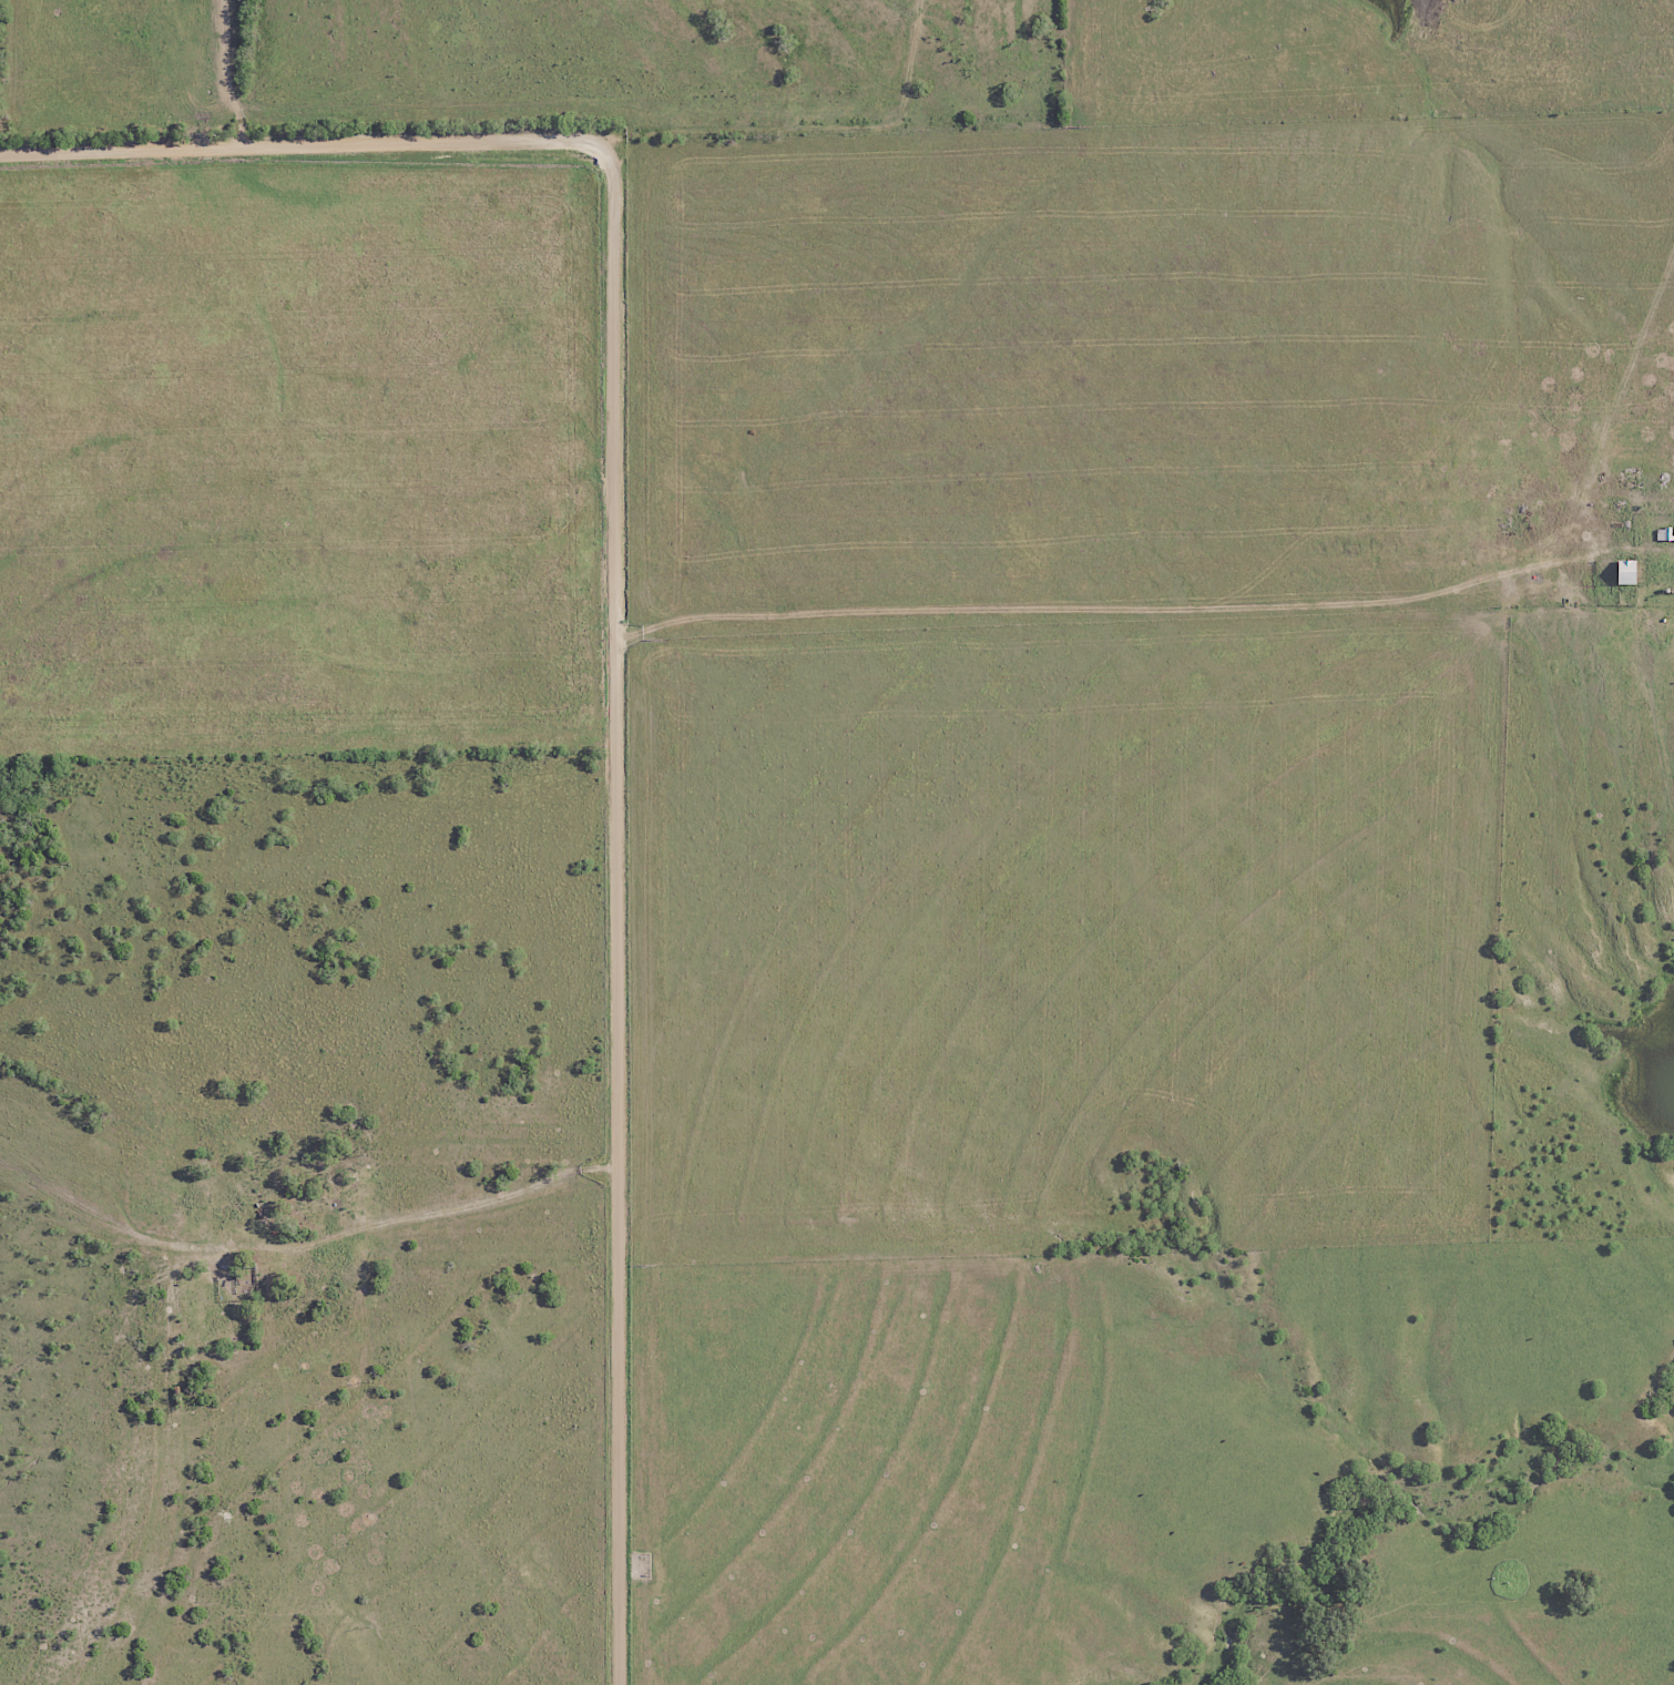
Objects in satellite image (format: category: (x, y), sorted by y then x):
road: (616, 612)

